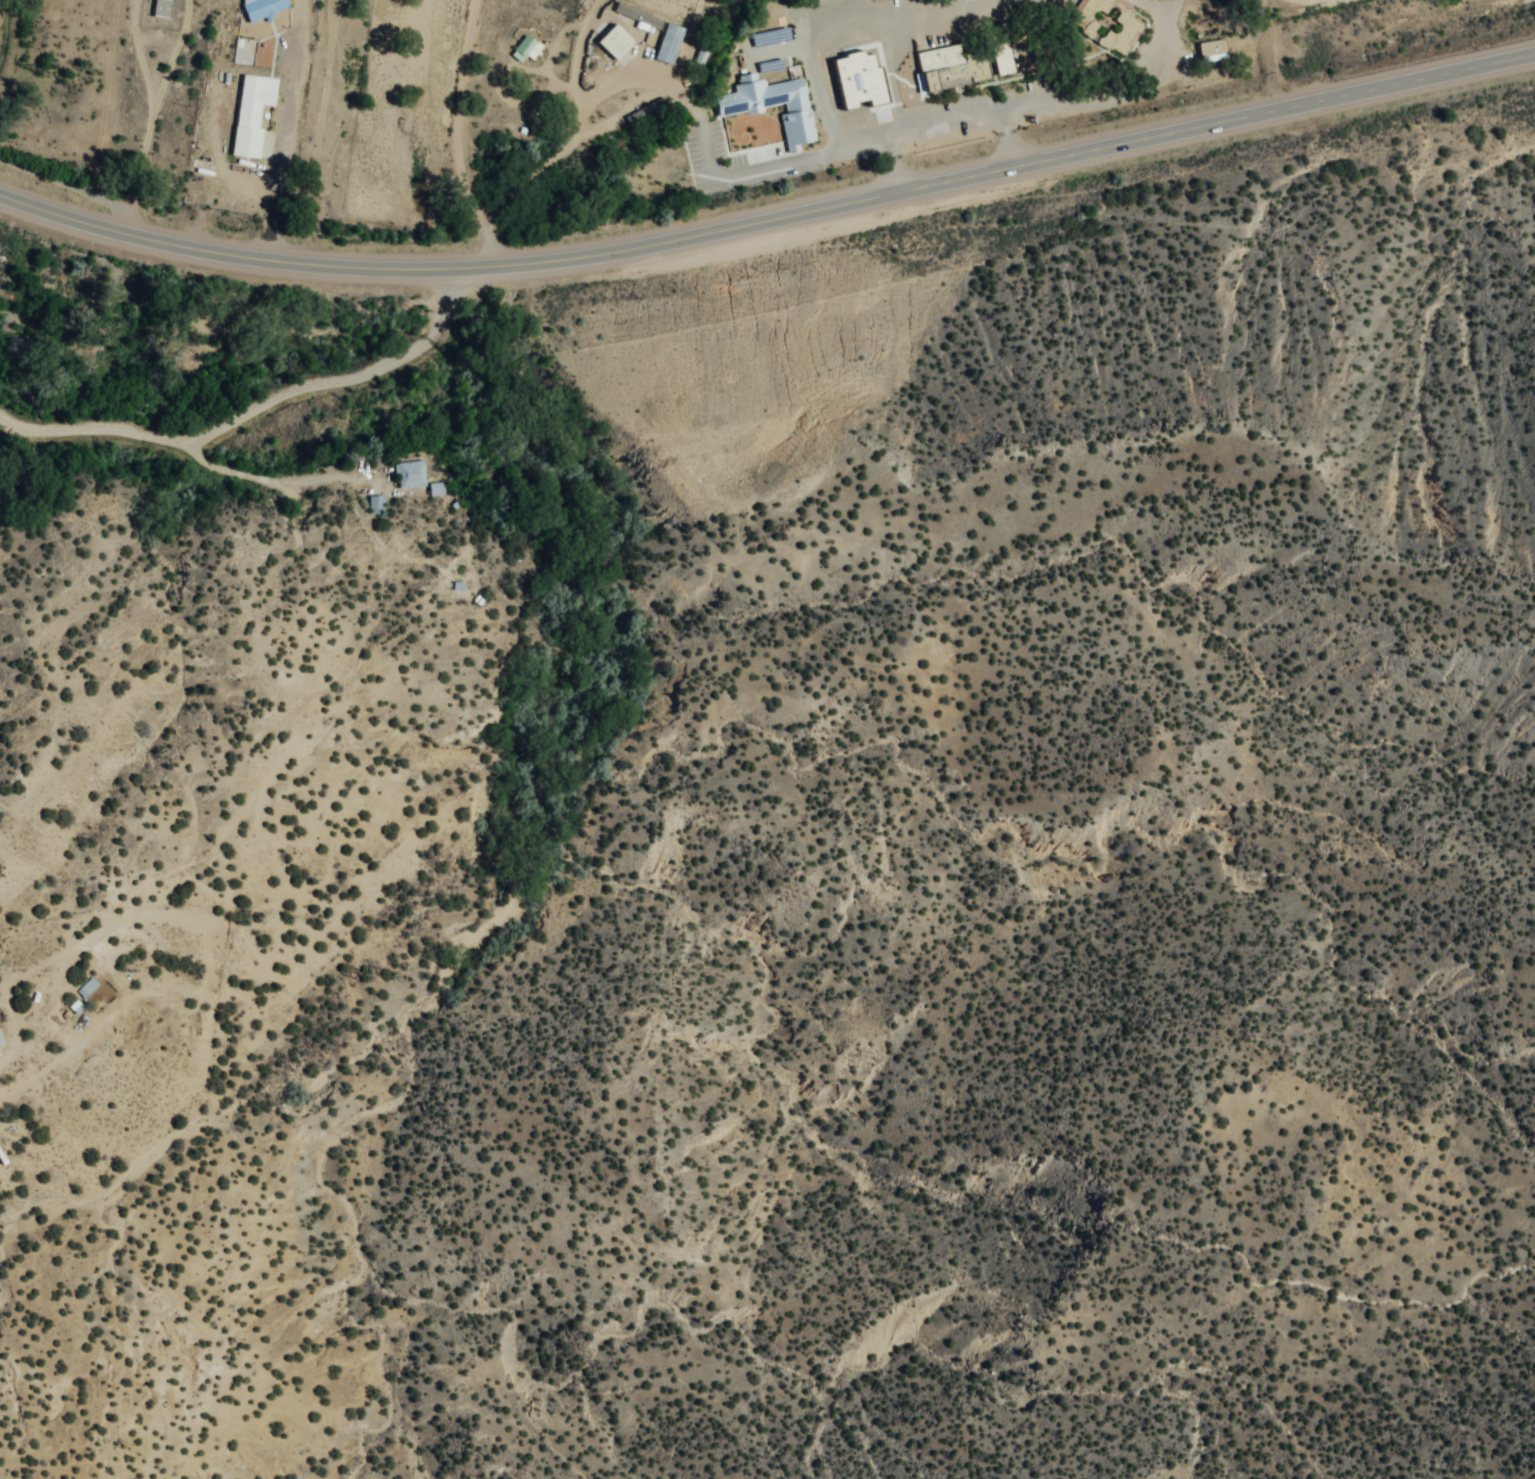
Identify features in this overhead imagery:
building: (264, 8)
building: (163, 9)
building: (1113, 34)
building: (838, 45)
building: (620, 46)
building: (887, 61)
road: (578, 62)
building: (973, 73)
building: (863, 89)
building: (770, 102)
road: (155, 103)
building: (512, 113)
building: (254, 114)
building: (887, 116)
road: (457, 138)
road: (146, 172)
road: (770, 221)
road: (260, 410)
building: (412, 476)
building: (378, 507)
building: (89, 989)
building: (1, 1047)

